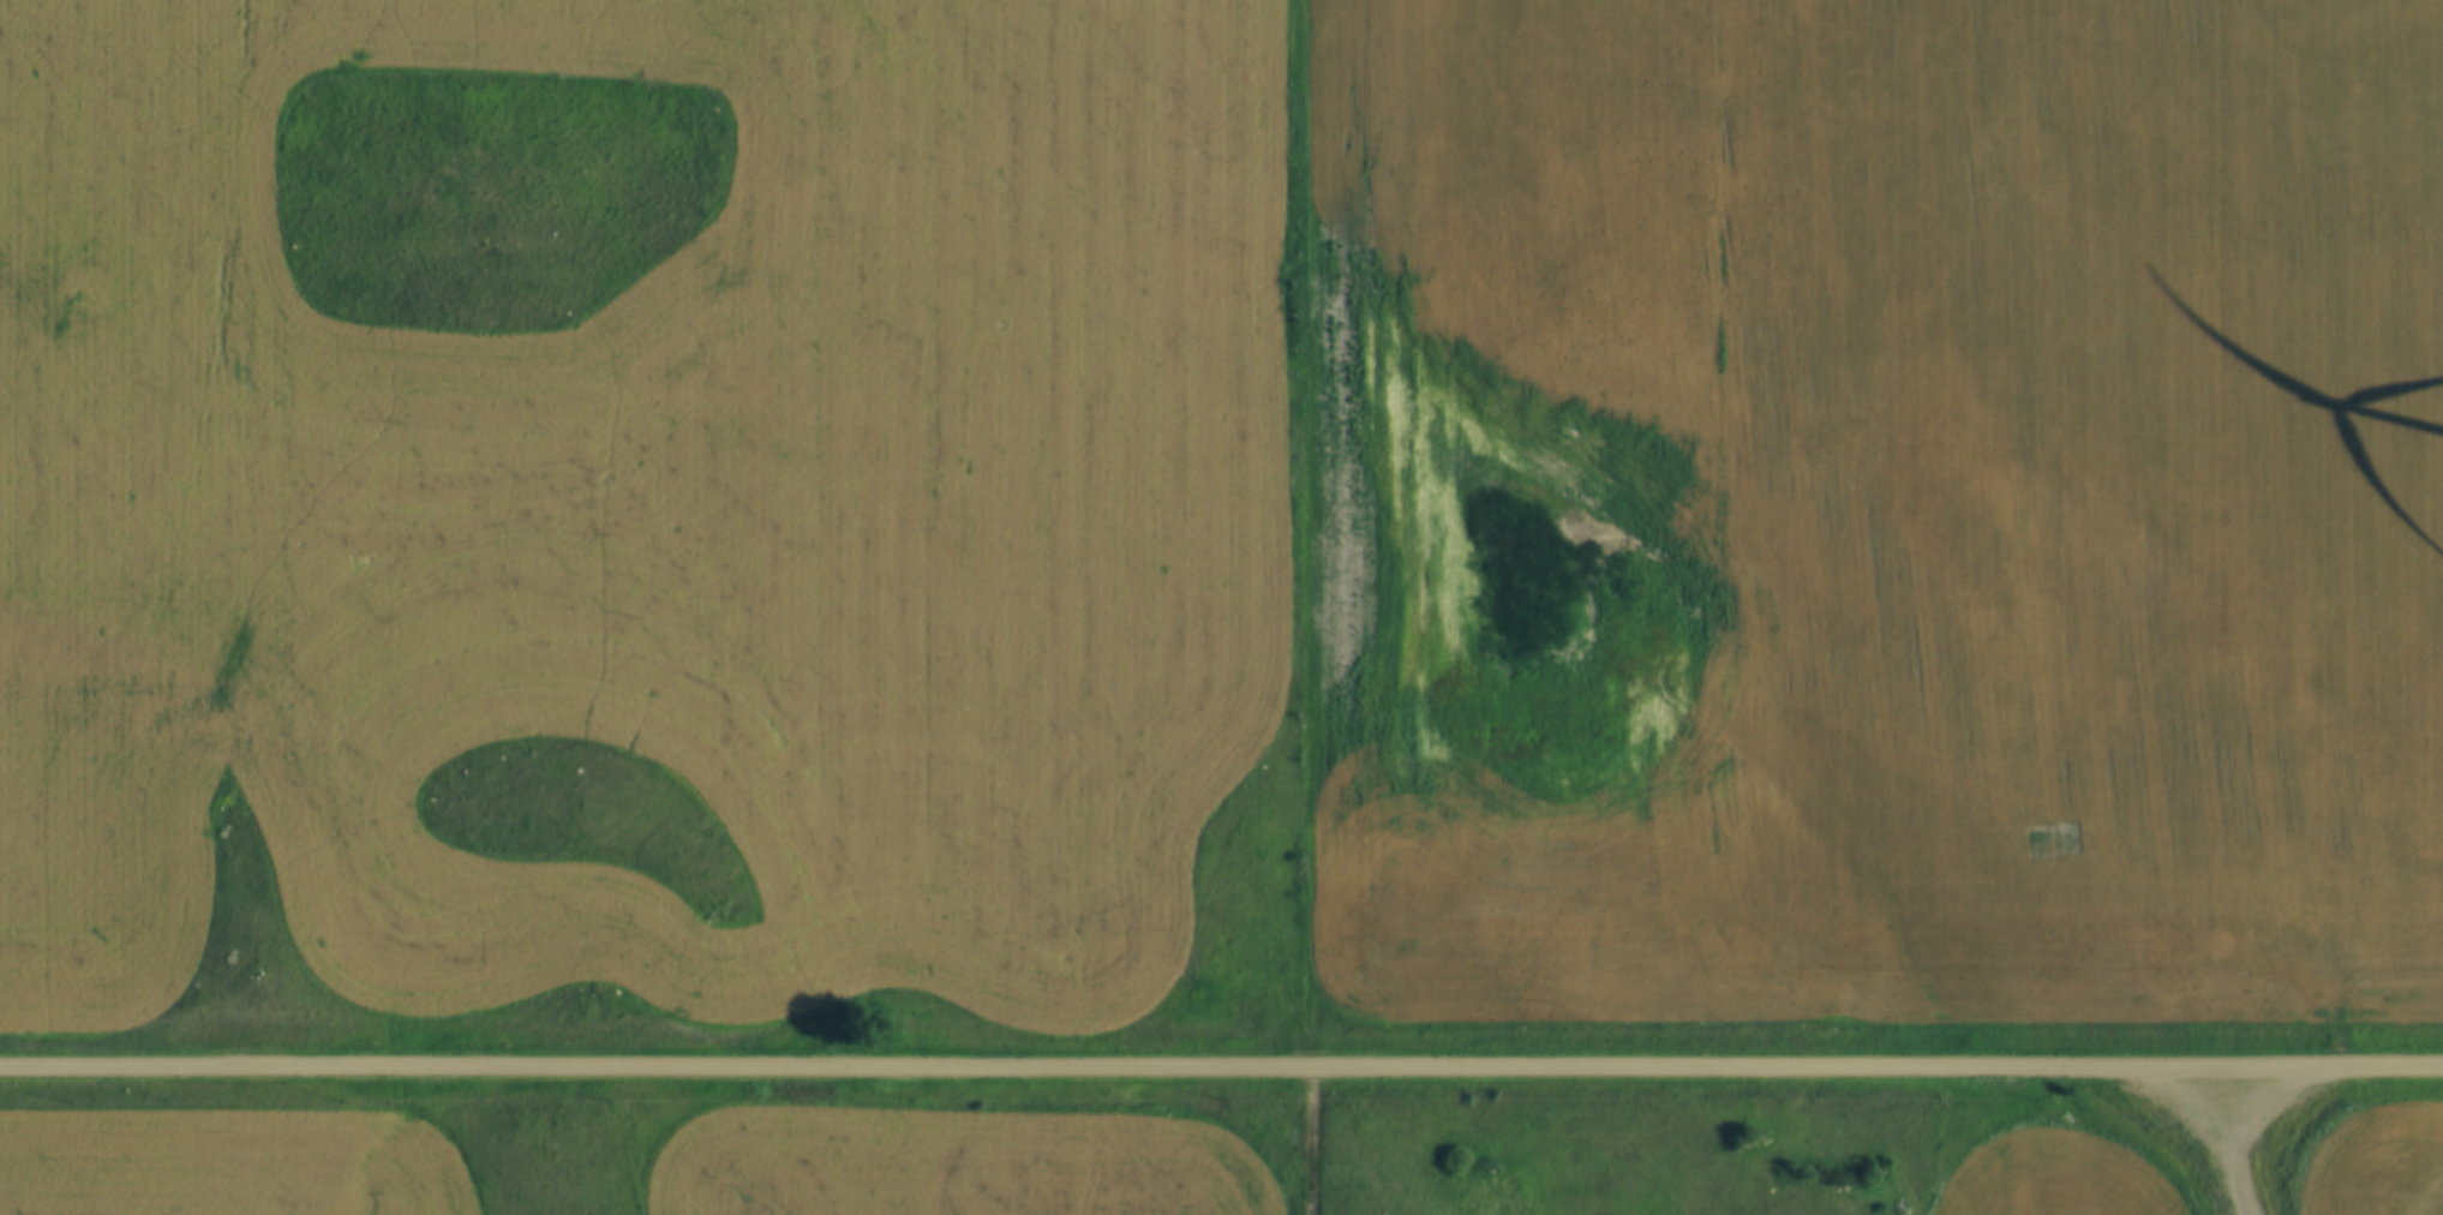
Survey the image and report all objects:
road: (1221, 1065)
road: (1315, 1138)

